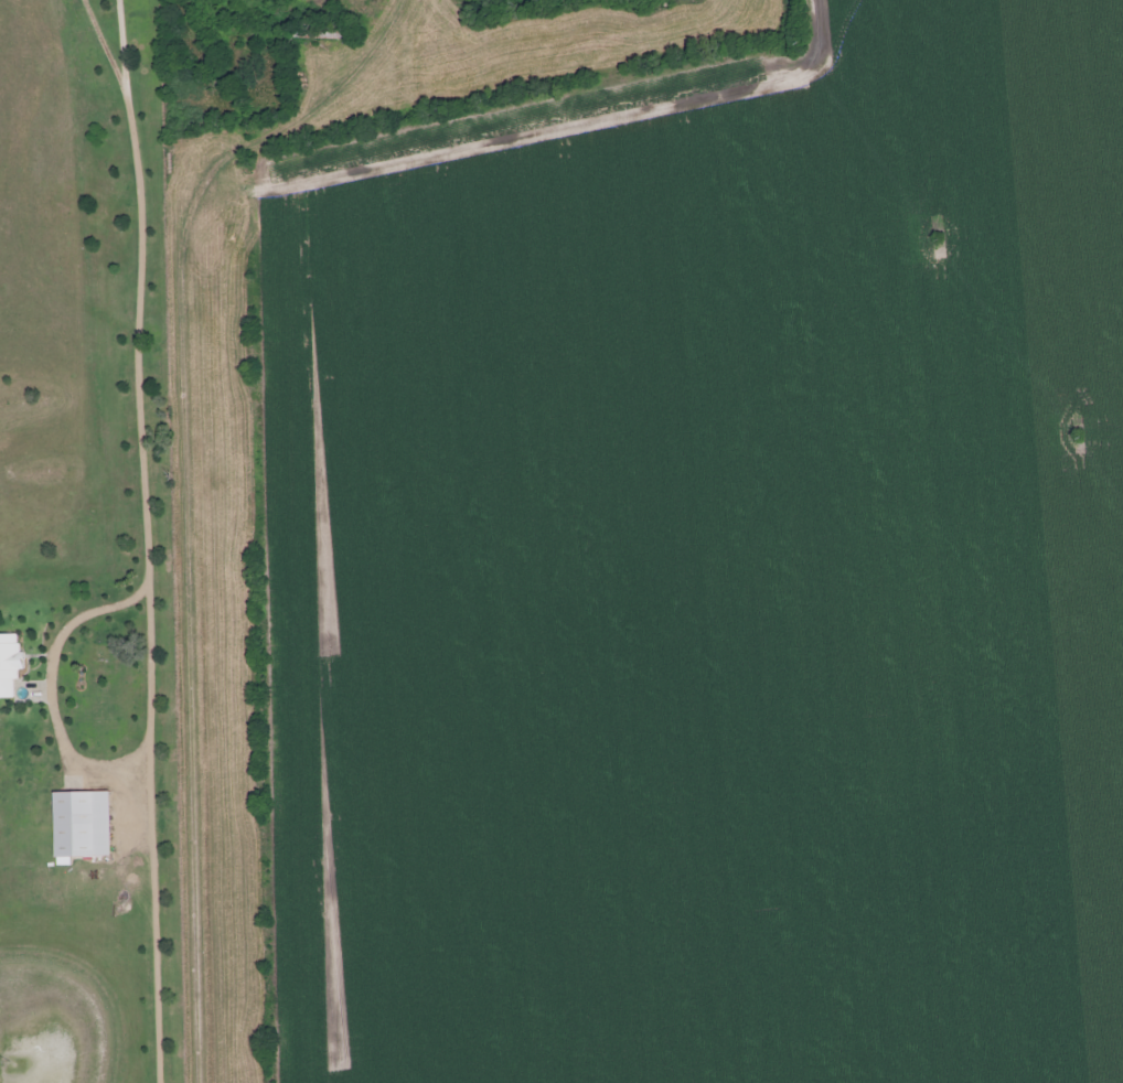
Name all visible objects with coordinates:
building: (324, 30)
building: (7, 661)
building: (78, 823)

